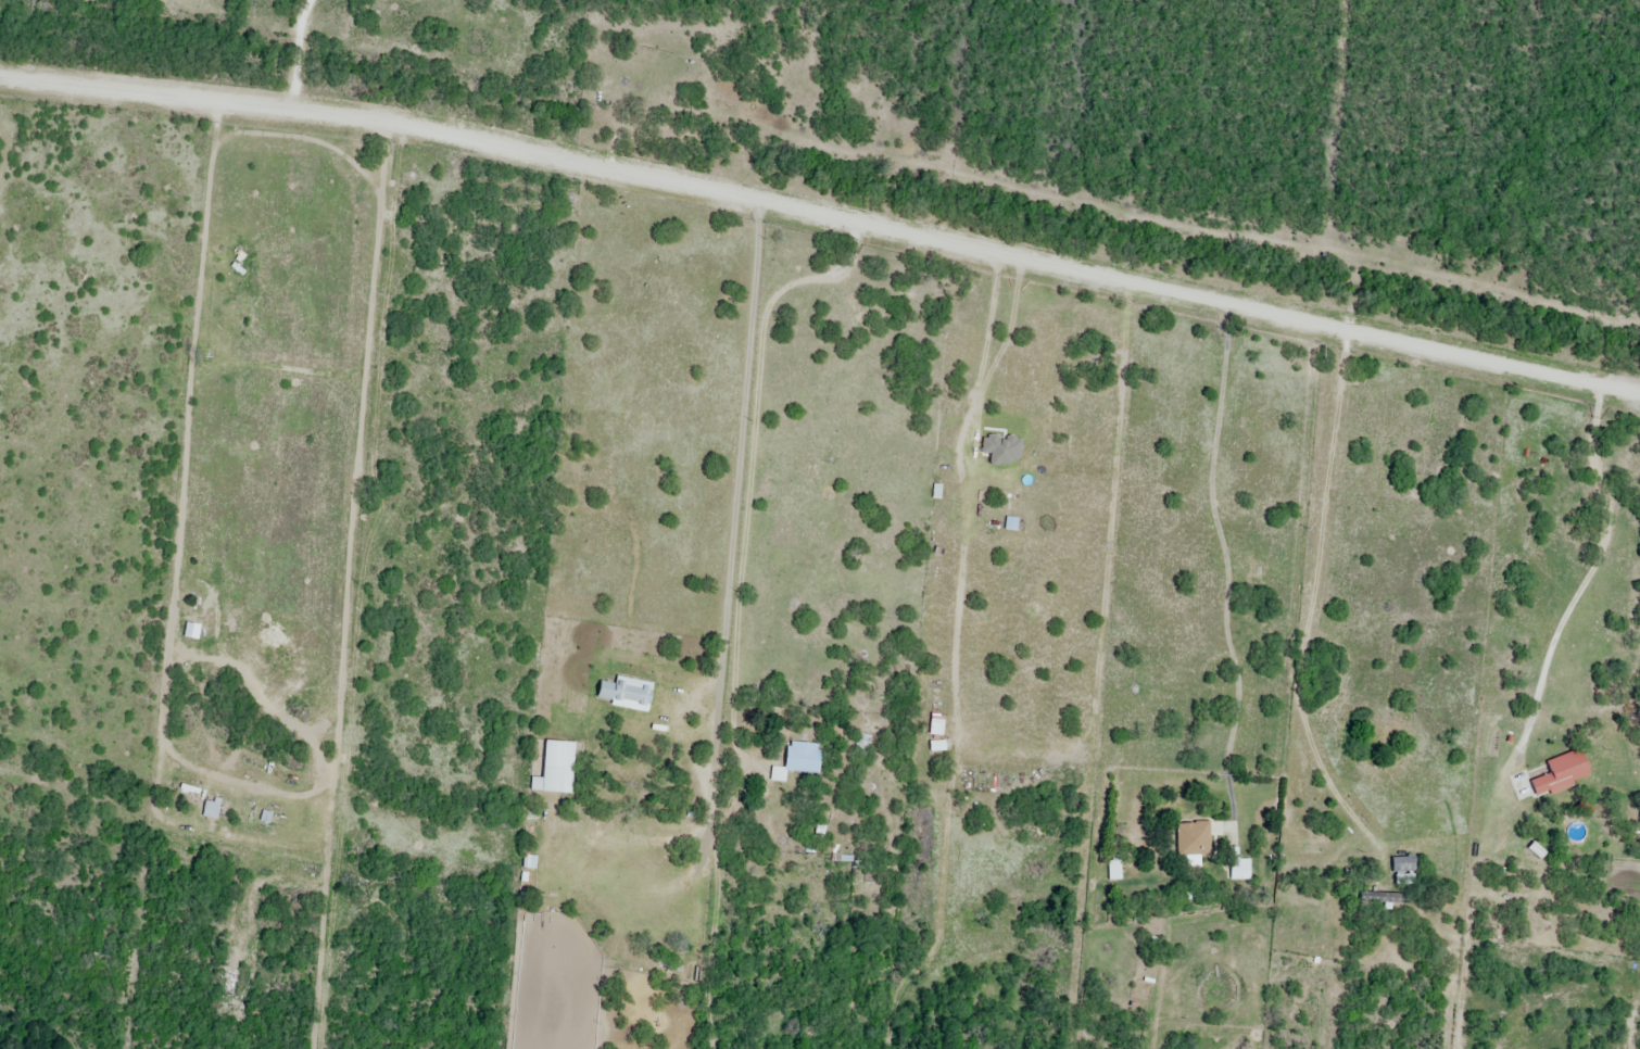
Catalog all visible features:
road: (823, 217)
building: (862, 745)
building: (799, 761)
building: (623, 772)
building: (1562, 774)
building: (557, 781)
building: (983, 781)
building: (211, 810)
building: (1194, 841)
building: (1403, 865)
building: (1239, 870)
building: (1383, 899)

